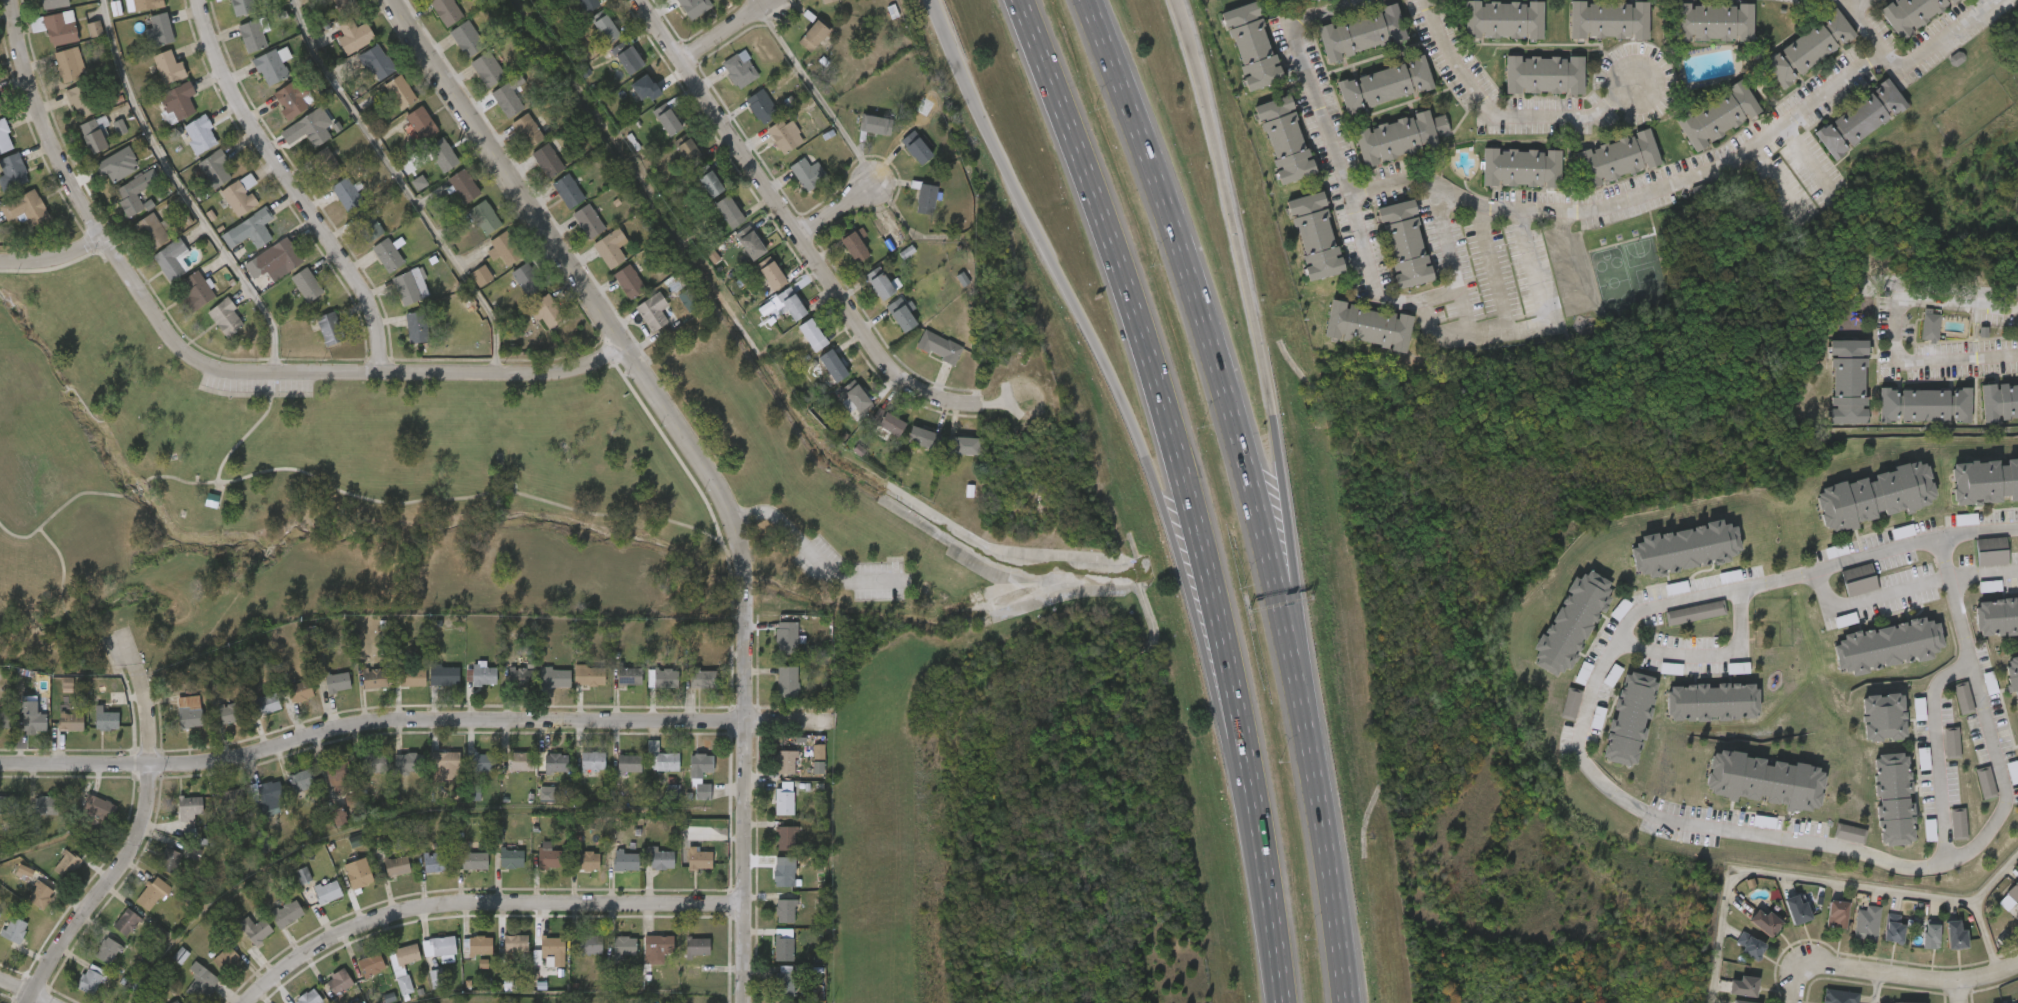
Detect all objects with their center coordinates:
building: (1328, 0)
building: (828, 1)
building: (53, 4)
building: (147, 4)
building: (589, 4)
road: (1847, 4)
building: (341, 5)
building: (243, 7)
building: (695, 7)
building: (446, 11)
building: (1911, 14)
building: (1501, 19)
building: (1609, 21)
building: (1714, 22)
road: (1861, 22)
building: (60, 28)
building: (95, 29)
building: (607, 29)
building: (159, 31)
building: (356, 31)
road: (726, 32)
building: (1362, 34)
building: (813, 35)
building: (252, 36)
building: (467, 39)
building: (1250, 45)
building: (1808, 46)
building: (627, 57)
building: (377, 62)
building: (69, 65)
building: (169, 67)
building: (271, 68)
building: (488, 69)
building: (740, 72)
building: (1545, 76)
building: (1384, 84)
building: (645, 88)
road: (818, 96)
building: (292, 99)
building: (508, 100)
building: (81, 102)
building: (178, 102)
building: (410, 106)
building: (763, 107)
building: (1, 110)
road: (1502, 116)
building: (1719, 116)
building: (1861, 118)
building: (667, 120)
building: (877, 125)
building: (120, 127)
building: (307, 131)
building: (527, 131)
building: (200, 135)
building: (94, 136)
building: (1398, 136)
building: (787, 138)
building: (1282, 138)
building: (5, 139)
building: (917, 148)
building: (689, 153)
building: (442, 155)
building: (1618, 157)
building: (548, 161)
building: (326, 164)
building: (118, 165)
building: (1519, 166)
building: (217, 169)
building: (13, 171)
building: (808, 174)
road: (404, 183)
building: (419, 183)
building: (710, 184)
road: (1434, 184)
road: (292, 186)
building: (463, 187)
road: (183, 191)
building: (568, 192)
building: (134, 193)
building: (240, 195)
building: (347, 195)
building: (926, 198)
road: (1228, 205)
building: (25, 208)
road: (837, 210)
building: (730, 212)
building: (485, 217)
building: (589, 222)
building: (368, 226)
building: (258, 227)
road: (794, 227)
building: (150, 232)
building: (1314, 235)
road: (1443, 237)
building: (1405, 243)
building: (752, 246)
building: (855, 246)
building: (506, 248)
building: (611, 248)
building: (284, 255)
building: (387, 255)
road: (53, 256)
building: (171, 259)
road: (55, 267)
building: (255, 267)
road: (1494, 270)
road: (574, 272)
building: (481, 276)
building: (771, 277)
building: (528, 280)
road: (1535, 280)
building: (629, 282)
building: (883, 284)
building: (307, 285)
building: (407, 289)
building: (197, 291)
building: (685, 302)
building: (785, 305)
building: (545, 311)
building: (653, 312)
building: (902, 316)
building: (226, 318)
road: (1081, 320)
building: (1929, 320)
building: (1366, 325)
building: (416, 327)
building: (330, 329)
road: (1895, 330)
building: (813, 335)
building: (939, 346)
road: (208, 364)
road: (1218, 365)
building: (833, 366)
building: (1847, 377)
building: (1999, 395)
building: (858, 396)
building: (1924, 399)
building: (891, 425)
building: (924, 438)
building: (965, 446)
road: (1168, 471)
building: (1984, 479)
park: (312, 494)
road: (354, 494)
building: (1874, 494)
building: (197, 518)
road: (1978, 528)
building: (1684, 546)
building: (1993, 547)
road: (812, 552)
road: (745, 572)
building: (1858, 574)
road: (1292, 578)
building: (1990, 586)
road: (1904, 587)
road: (63, 603)
building: (1694, 611)
building: (1996, 613)
building: (1570, 621)
building: (787, 636)
building: (1888, 640)
road: (1708, 656)
building: (630, 673)
building: (447, 675)
building: (484, 675)
building: (589, 675)
building: (2013, 675)
building: (412, 676)
building: (542, 676)
building: (374, 677)
building: (666, 677)
building: (702, 677)
building: (787, 679)
building: (337, 681)
building: (67, 685)
building: (300, 691)
building: (1964, 693)
building: (1711, 699)
building: (1571, 700)
building: (266, 703)
building: (1919, 709)
building: (231, 712)
building: (1882, 712)
building: (1630, 713)
building: (31, 716)
building: (190, 717)
building: (4, 718)
building: (1598, 718)
building: (106, 720)
road: (414, 720)
building: (71, 721)
road: (1222, 723)
building: (1952, 737)
building: (819, 752)
road: (1937, 752)
building: (521, 760)
building: (592, 760)
building: (408, 761)
building: (483, 761)
building: (666, 761)
building: (785, 761)
building: (374, 762)
building: (555, 762)
building: (629, 763)
building: (447, 765)
building: (340, 776)
building: (697, 777)
building: (1764, 778)
building: (302, 779)
building: (1986, 779)
building: (269, 791)
building: (474, 792)
building: (551, 794)
building: (1893, 795)
building: (352, 798)
road: (745, 798)
building: (784, 798)
building: (230, 799)
building: (9, 804)
building: (99, 807)
building: (189, 807)
building: (39, 810)
building: (339, 817)
building: (1959, 820)
road: (1701, 822)
building: (1849, 828)
road: (141, 830)
building: (786, 837)
building: (357, 841)
building: (511, 857)
building: (551, 857)
building: (662, 857)
building: (474, 859)
building: (585, 859)
building: (700, 859)
building: (435, 860)
building: (625, 860)
building: (67, 861)
building: (169, 861)
building: (396, 865)
building: (25, 872)
building: (357, 872)
road: (1329, 872)
building: (785, 873)
building: (303, 875)
road: (1823, 883)
building: (2014, 889)
building: (327, 890)
building: (153, 892)
building: (41, 895)
road: (482, 904)
building: (785, 909)
building: (1797, 910)
building: (1838, 910)
building: (286, 912)
building: (1866, 918)
building: (1764, 920)
building: (127, 921)
building: (1892, 925)
building: (13, 928)
building: (255, 928)
building: (1930, 932)
building: (1955, 934)
road: (1987, 938)
building: (1750, 941)
building: (515, 943)
building: (589, 943)
building: (479, 944)
building: (624, 944)
building: (438, 945)
building: (697, 945)
building: (784, 946)
building: (657, 947)
building: (553, 948)
building: (108, 950)
building: (181, 955)
building: (223, 961)
building: (371, 964)
building: (398, 968)
building: (693, 971)
road: (1896, 977)
building: (91, 979)
building: (437, 979)
building: (339, 981)
road: (1275, 981)
building: (201, 982)
building: (787, 982)
building: (1743, 985)
building: (510, 986)
road: (1876, 989)
road: (24, 991)
building: (158, 992)
road: (1959, 993)
building: (1838, 995)
building: (308, 997)
building: (1744, 1001)
building: (176, 1002)
building: (785, 1002)
building: (1904, 1002)

